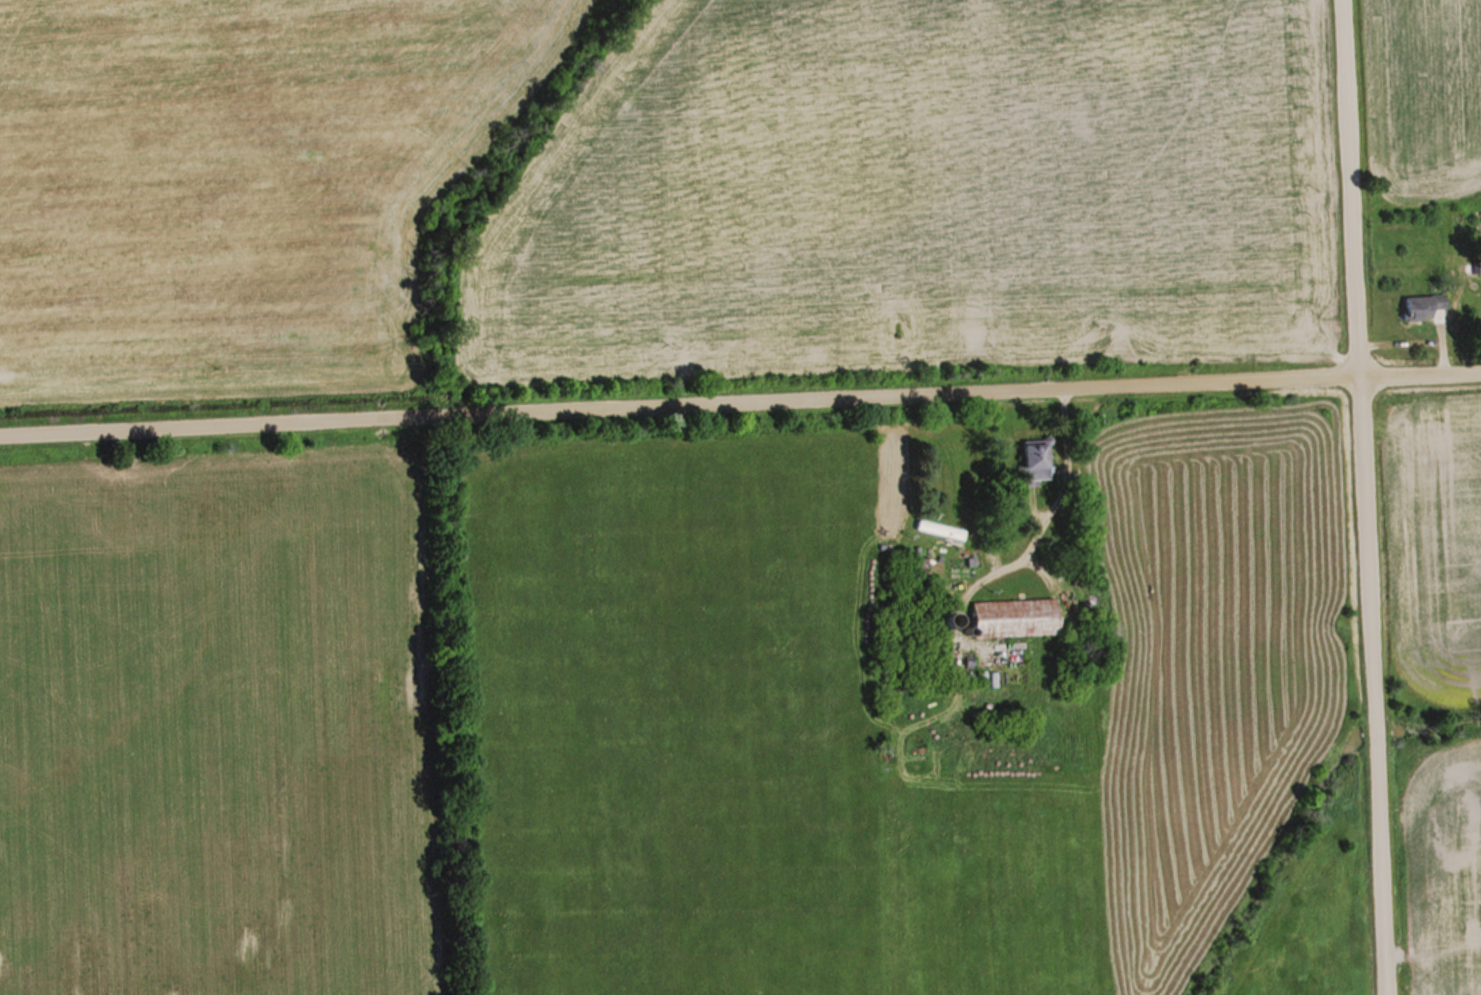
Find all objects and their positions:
building: (1424, 307)
road: (740, 403)
building: (1035, 462)
road: (1359, 497)
building: (1015, 618)

